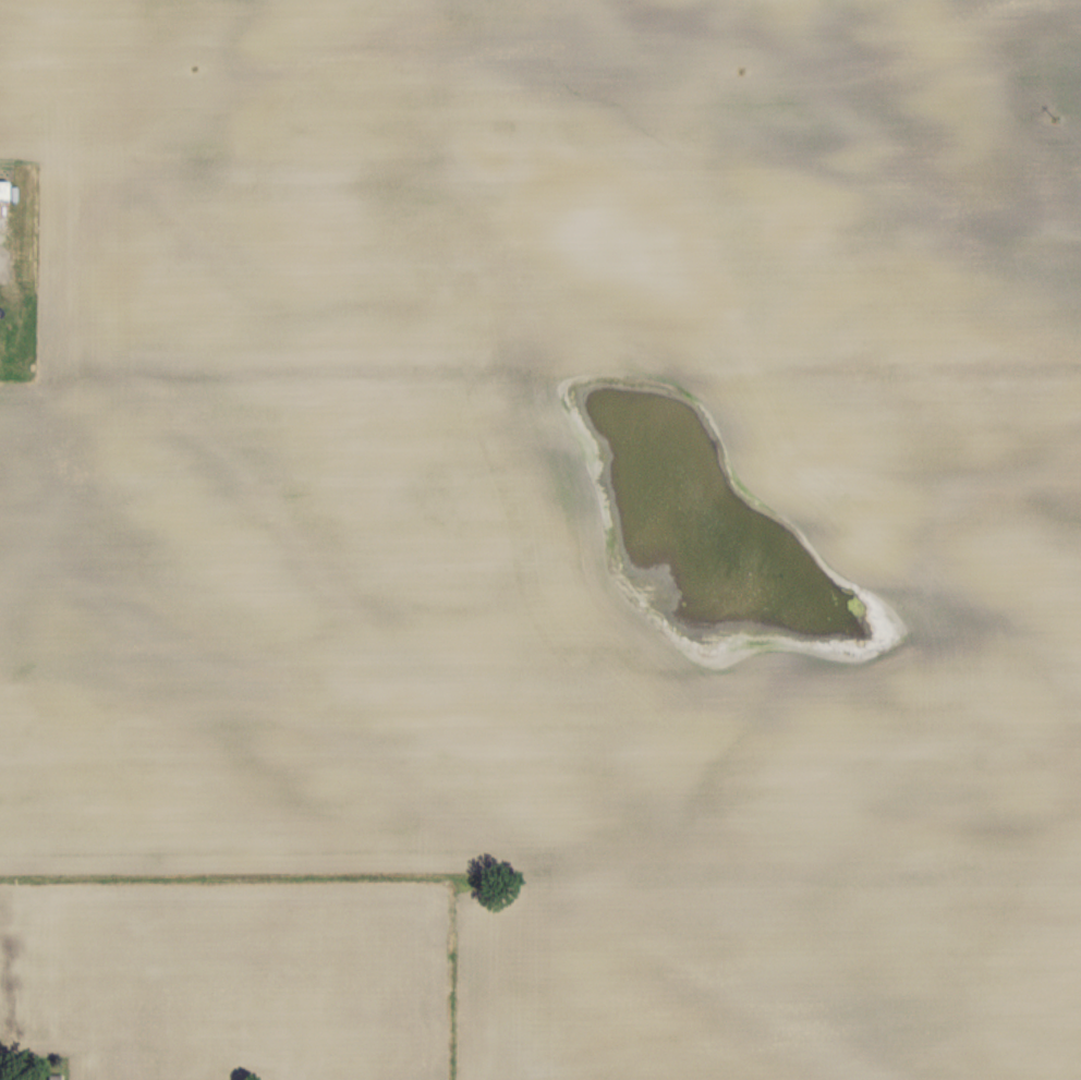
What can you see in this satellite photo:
building: (53, 1077)

